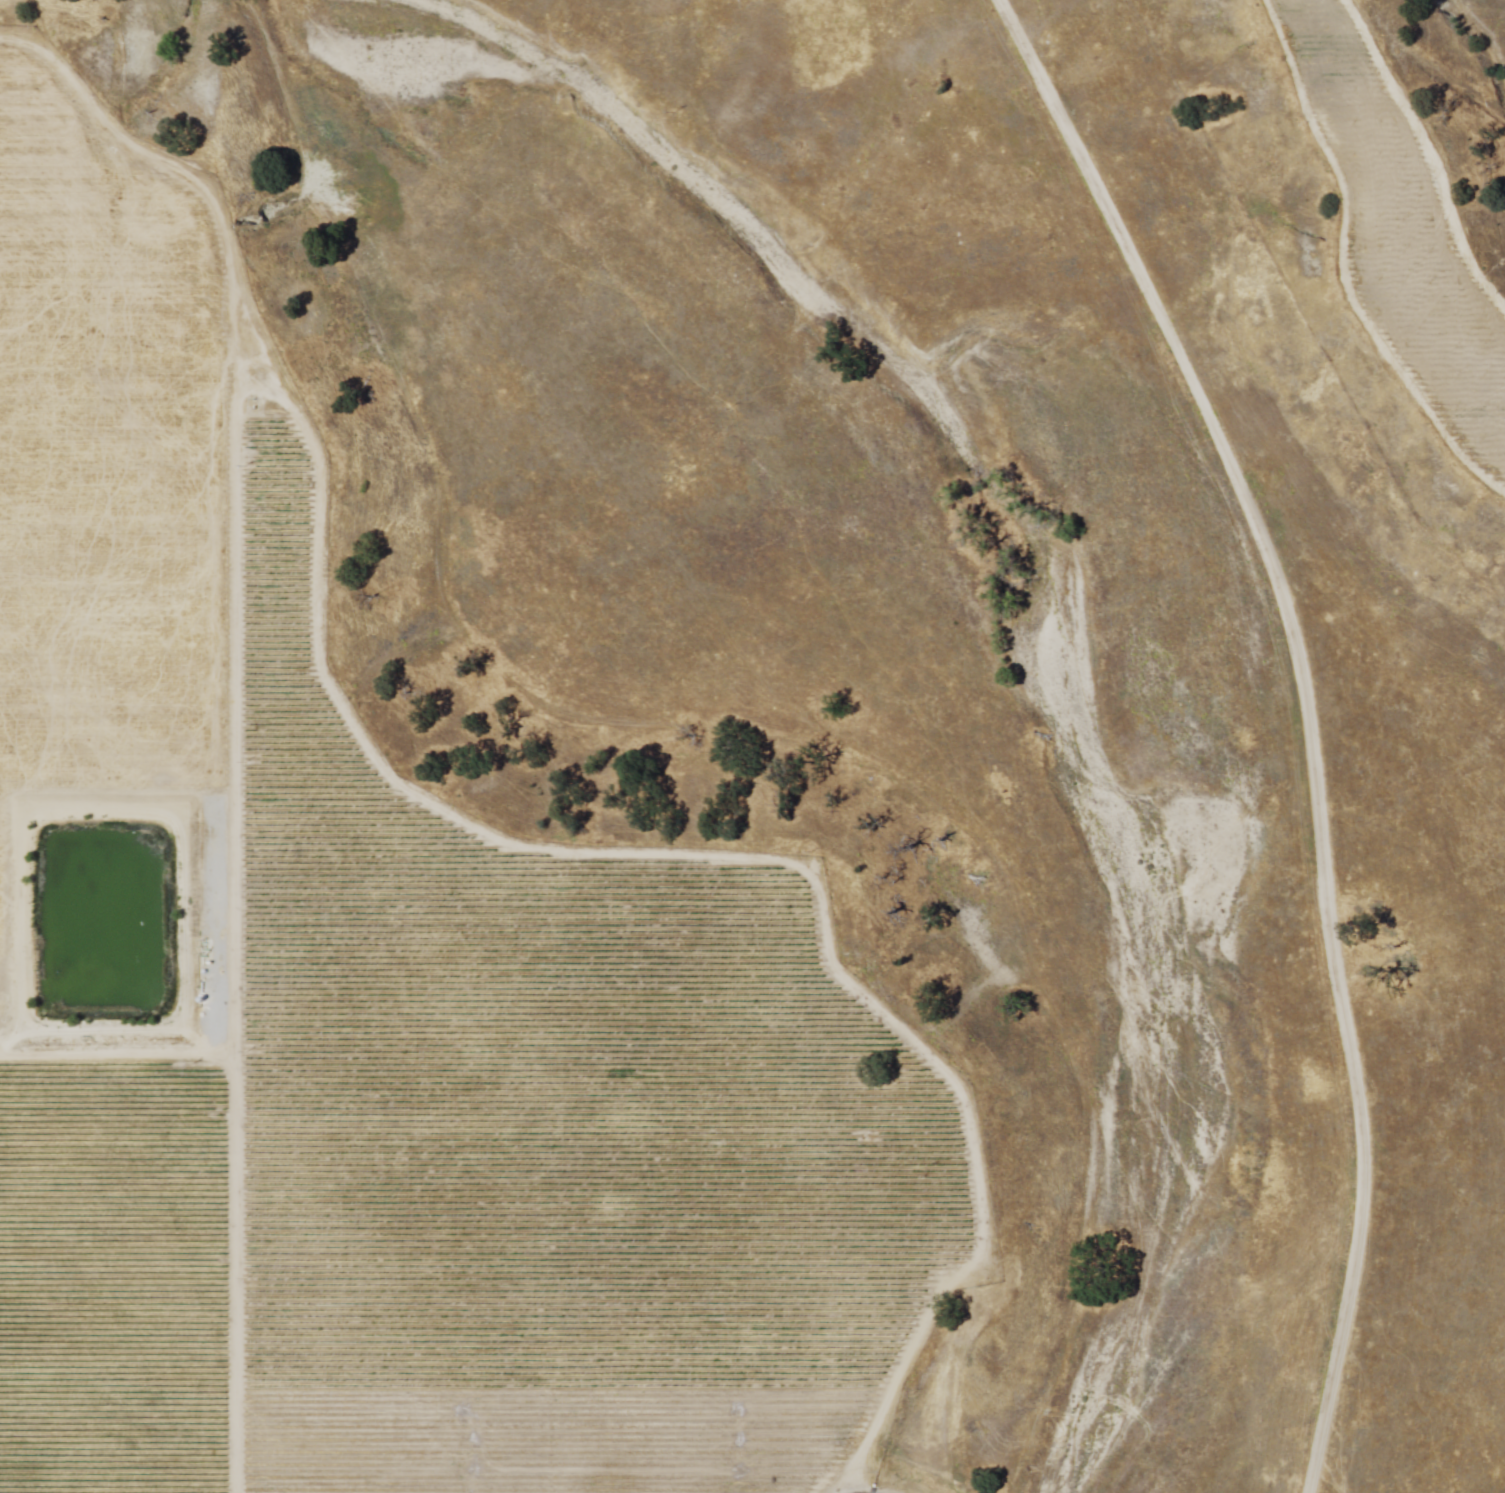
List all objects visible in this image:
road: (1431, 152)
road: (1343, 267)
road: (1309, 718)

